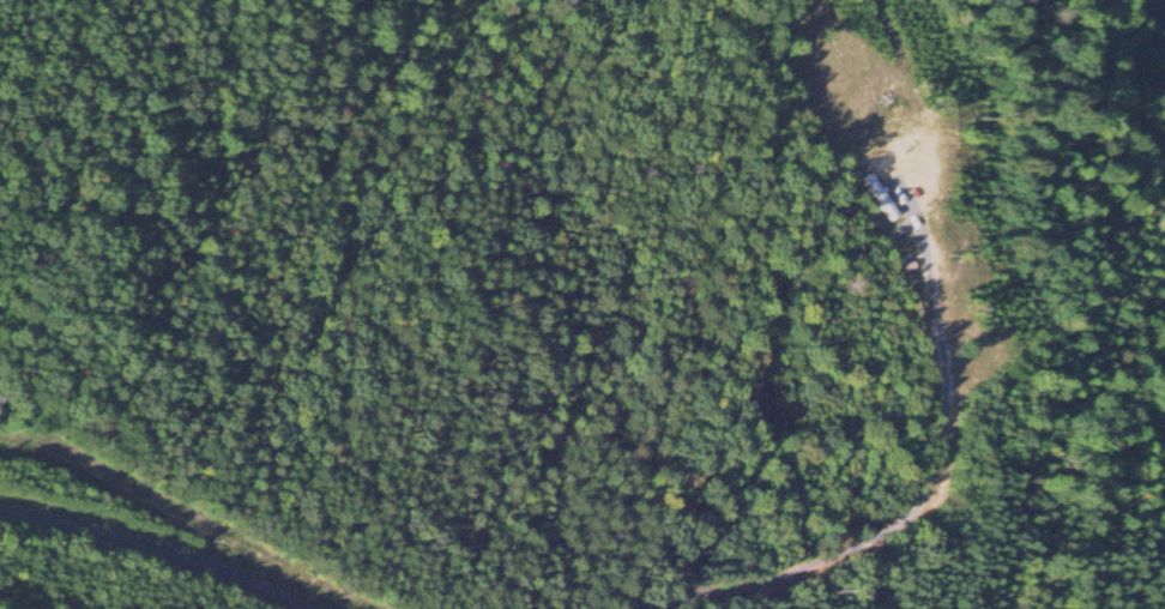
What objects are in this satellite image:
building: (879, 198)
road: (162, 536)

